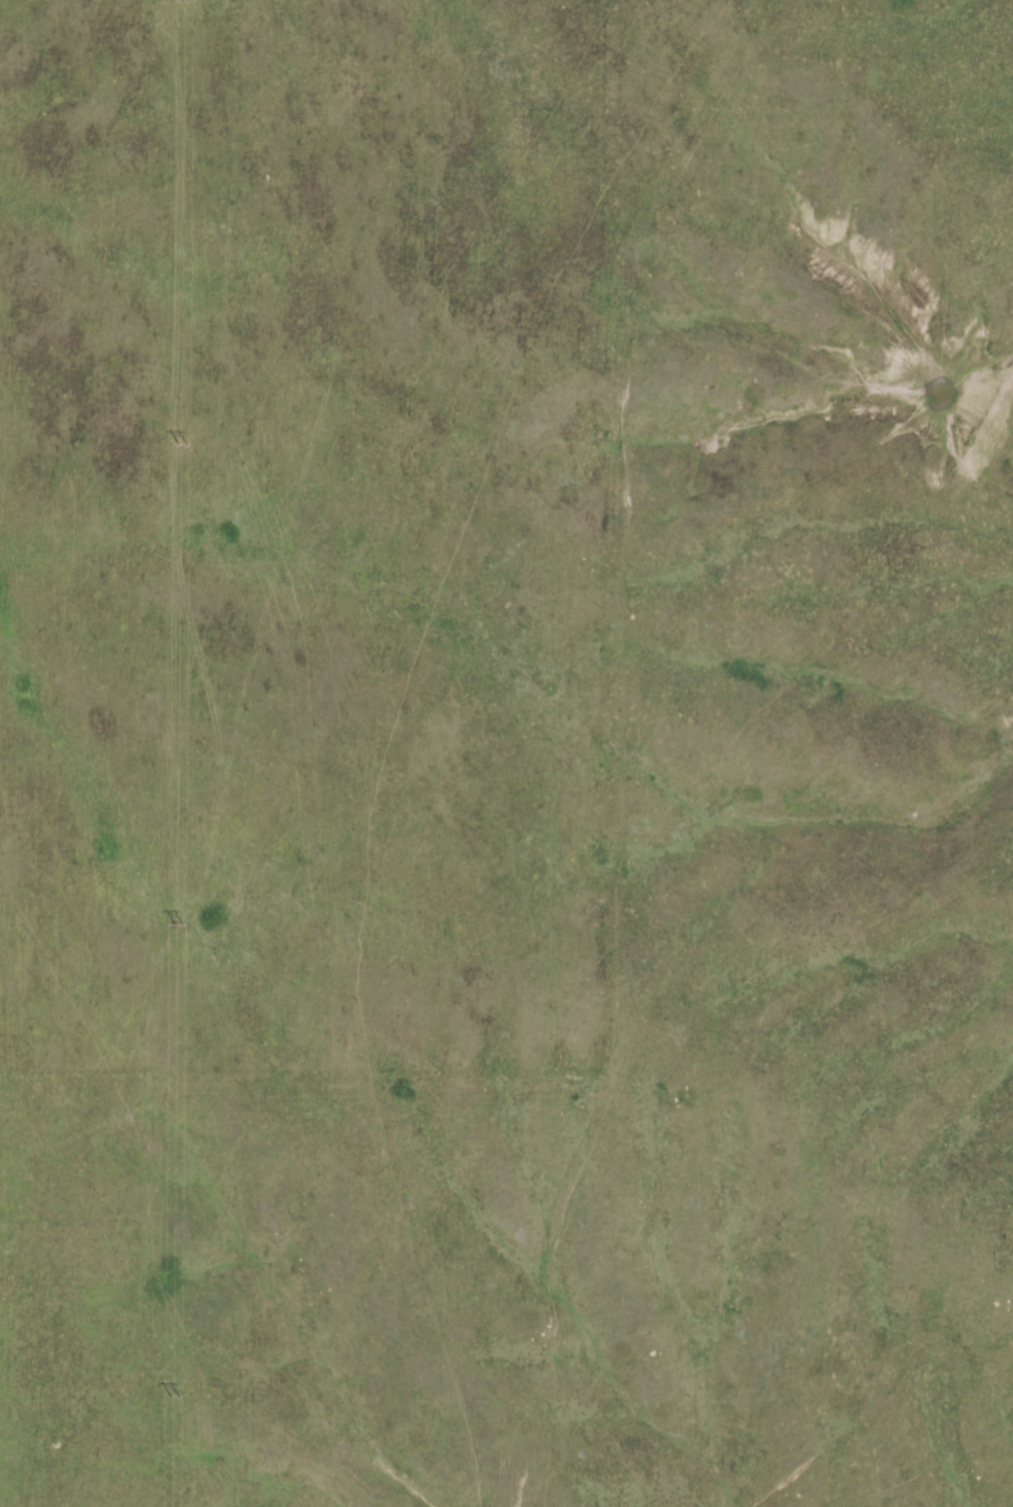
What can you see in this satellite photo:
power tower: (187, 1)
power tower: (182, 446)
power tower: (180, 926)
power tower: (177, 1397)

